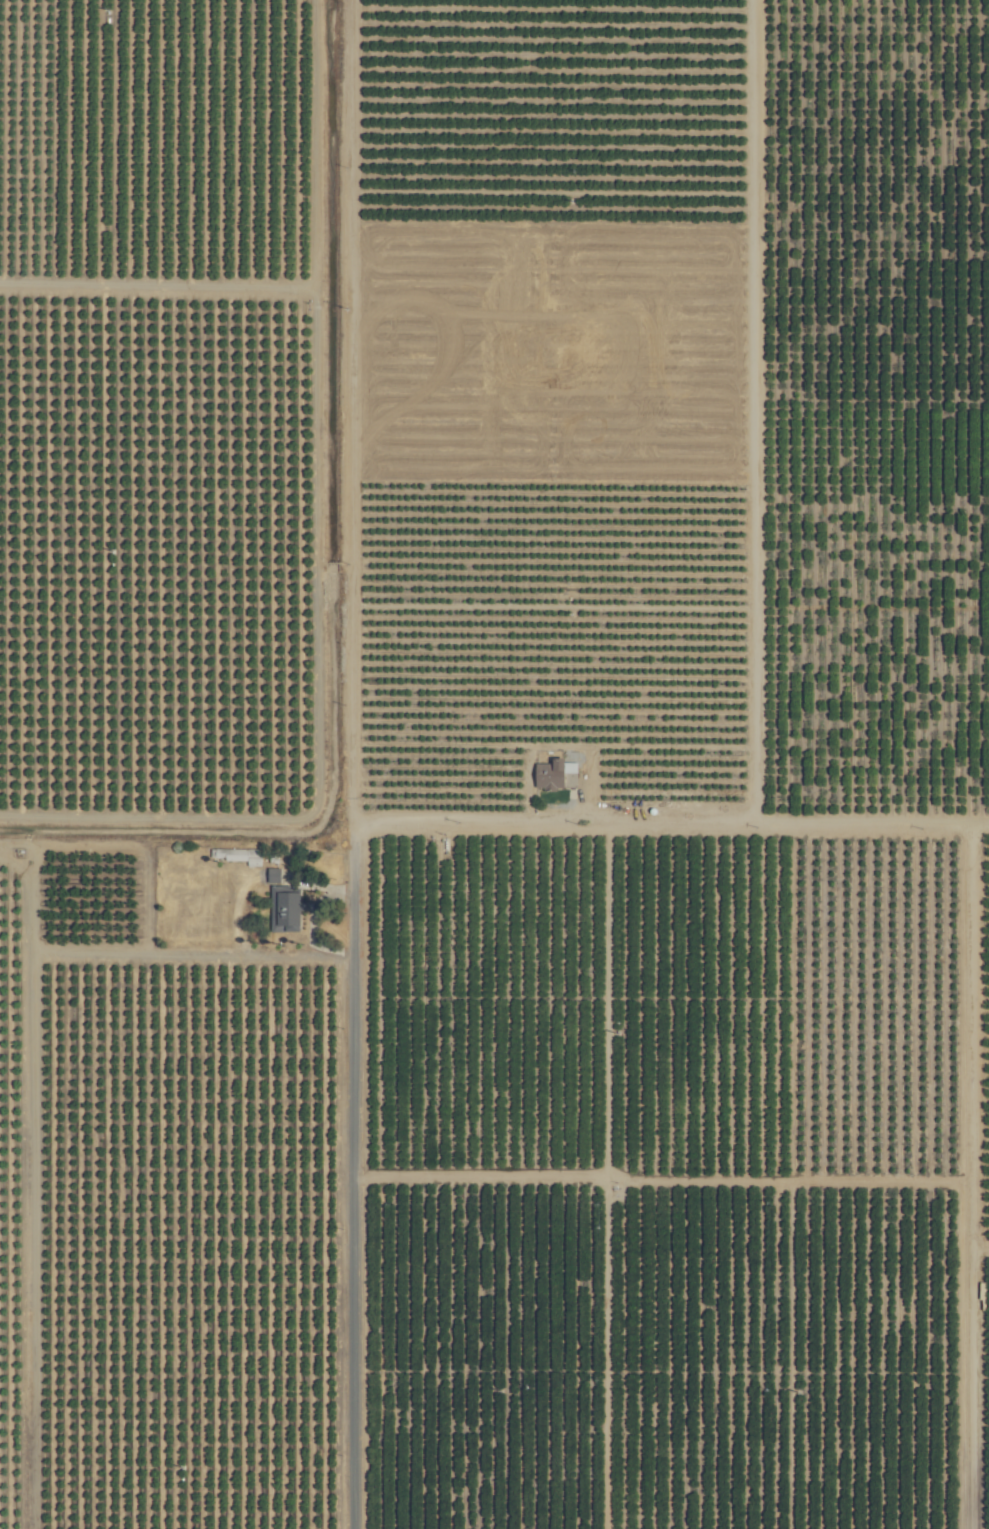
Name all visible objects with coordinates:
crop: (494, 764)
building: (553, 774)
road: (675, 830)
building: (270, 875)
building: (281, 909)
road: (304, 954)
road: (963, 1171)
road: (362, 1179)

